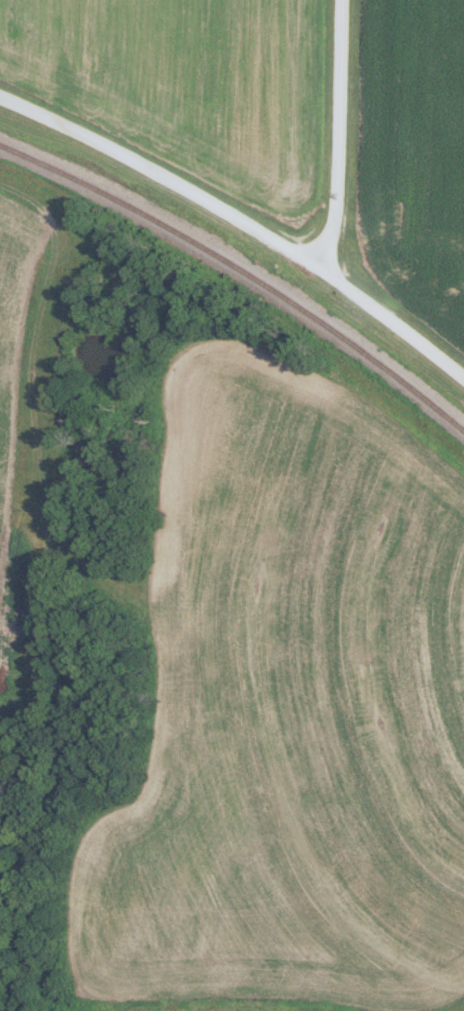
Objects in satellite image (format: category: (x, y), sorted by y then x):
road: (339, 135)
road: (161, 174)
railway: (246, 264)
road: (391, 318)

